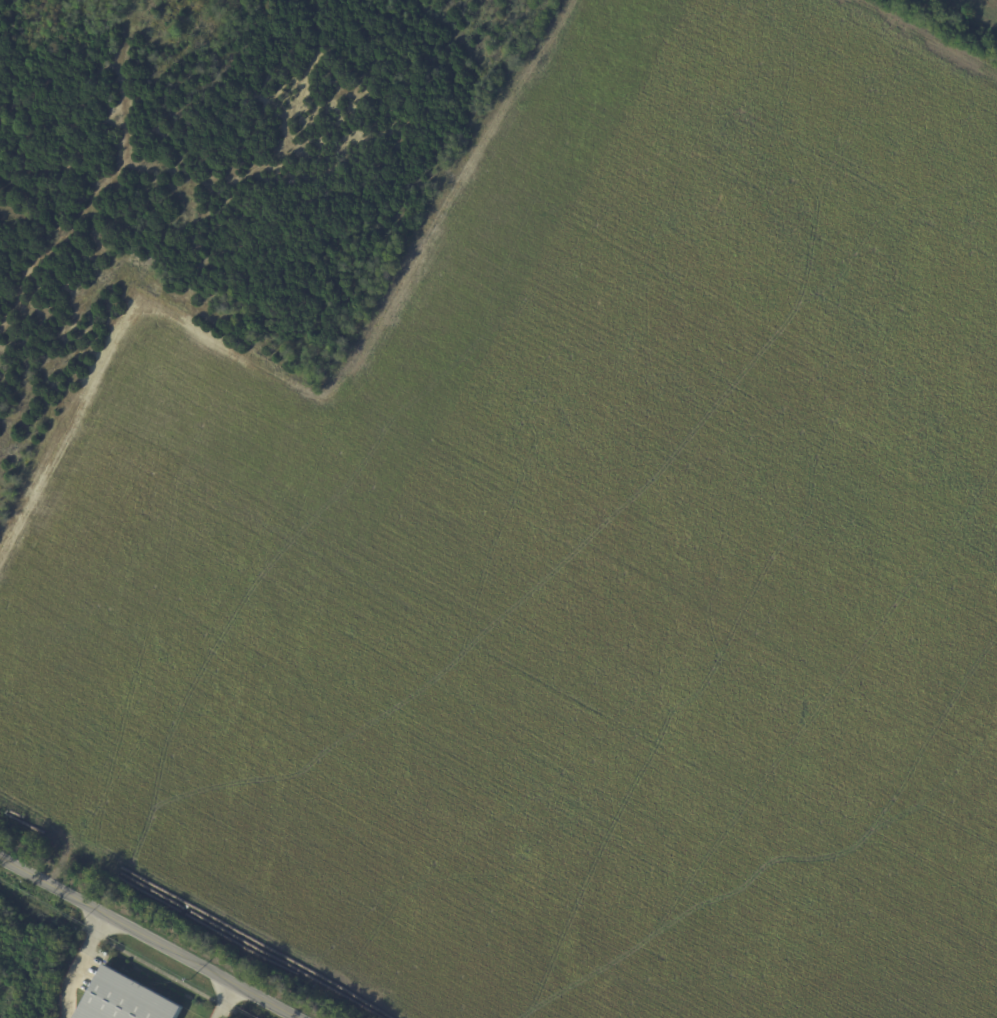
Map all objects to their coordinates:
building: (99, 291)
crop: (577, 556)
road: (153, 935)
road: (84, 956)
building: (125, 999)
road: (227, 999)
road: (64, 1011)

